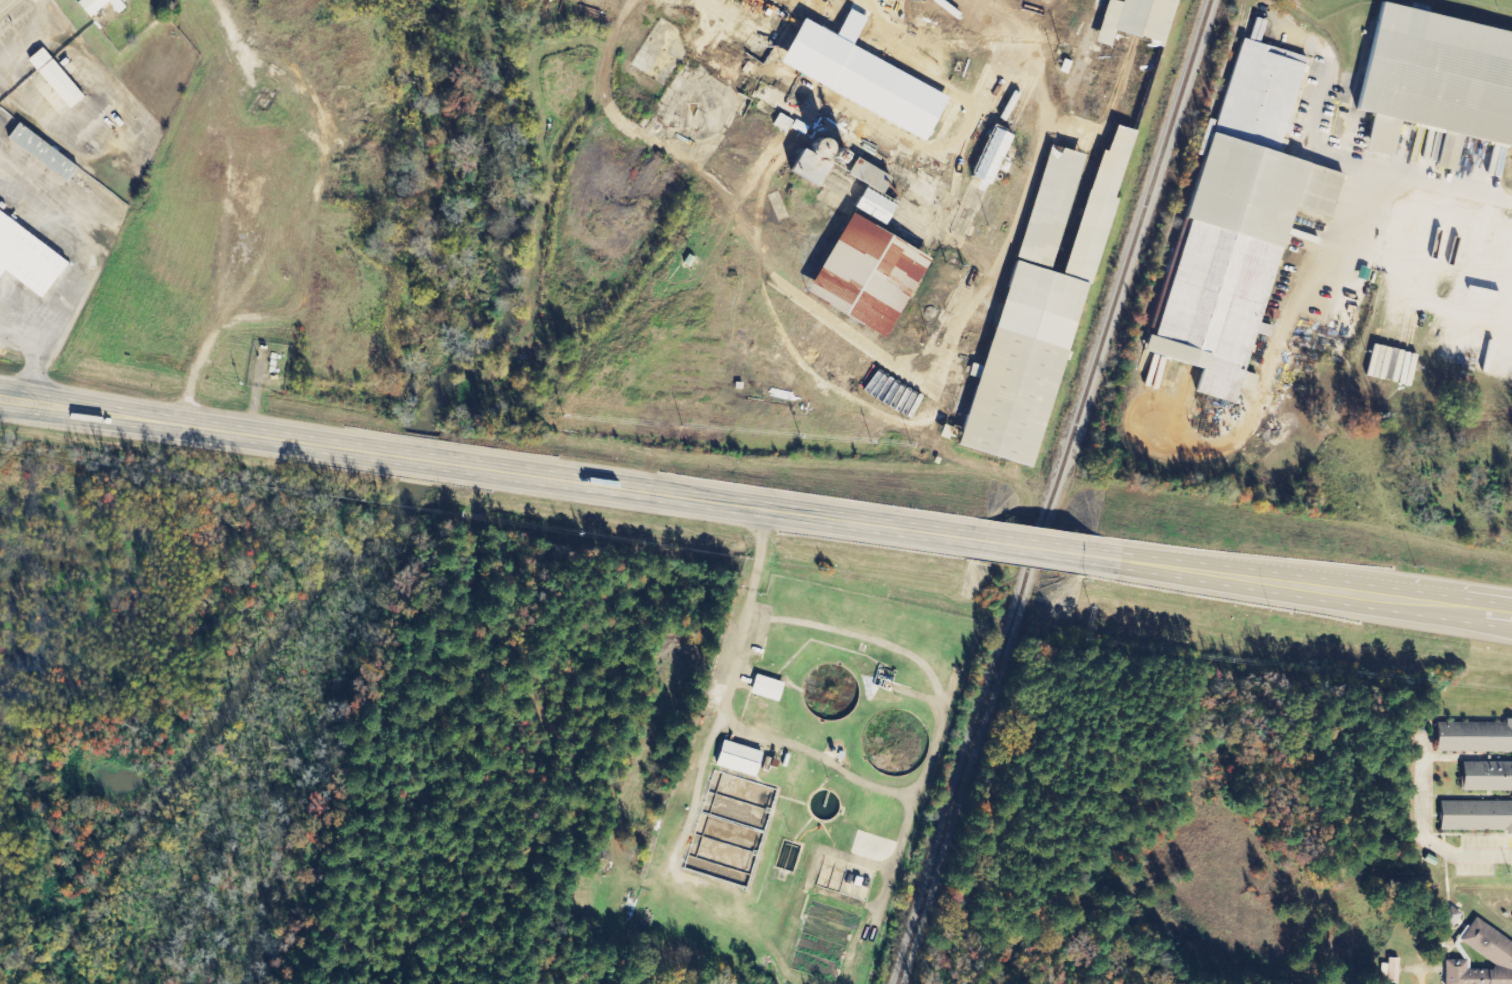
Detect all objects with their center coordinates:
road: (0, 0)
building: (102, 5)
building: (1130, 19)
building: (60, 79)
building: (1434, 81)
building: (779, 122)
building: (48, 154)
building: (808, 158)
road: (1362, 167)
building: (862, 175)
building: (869, 204)
building: (1234, 221)
building: (29, 258)
building: (860, 274)
building: (1035, 306)
building: (1388, 365)
road: (92, 408)
road: (92, 416)
road: (578, 483)
railway: (1052, 491)
road: (1021, 548)
road: (1291, 587)
building: (763, 688)
building: (735, 759)
wastewater plant: (775, 774)
building: (1476, 776)
road: (1425, 839)
building: (1447, 917)
building: (1492, 952)

